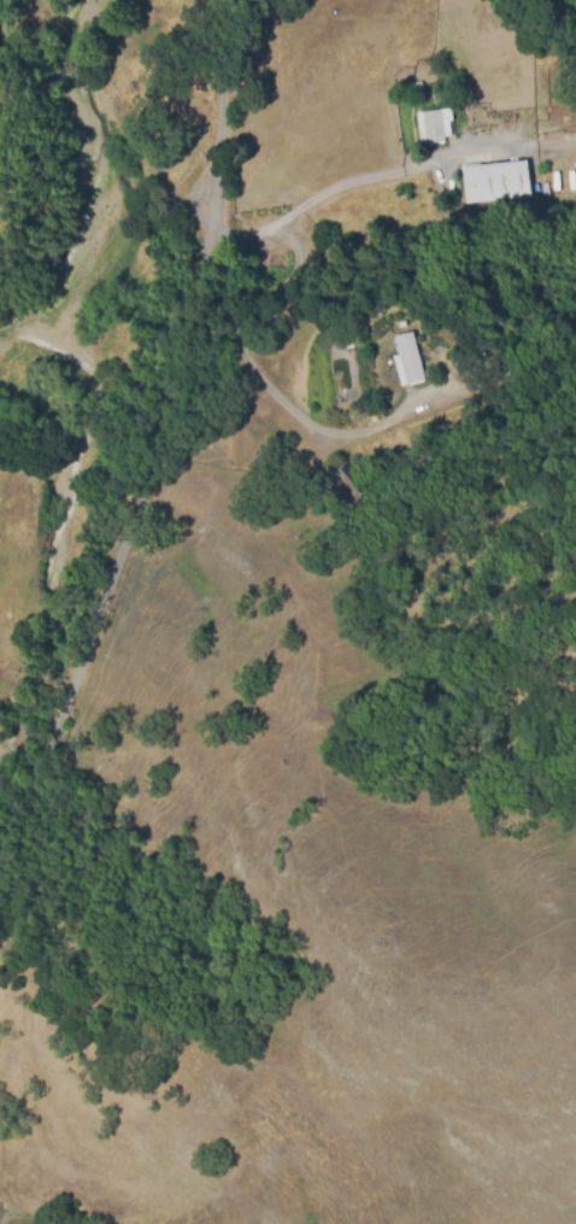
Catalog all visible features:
building: (434, 124)
building: (494, 180)
road: (349, 188)
road: (253, 329)
building: (406, 358)
road: (166, 421)
building: (347, 480)

